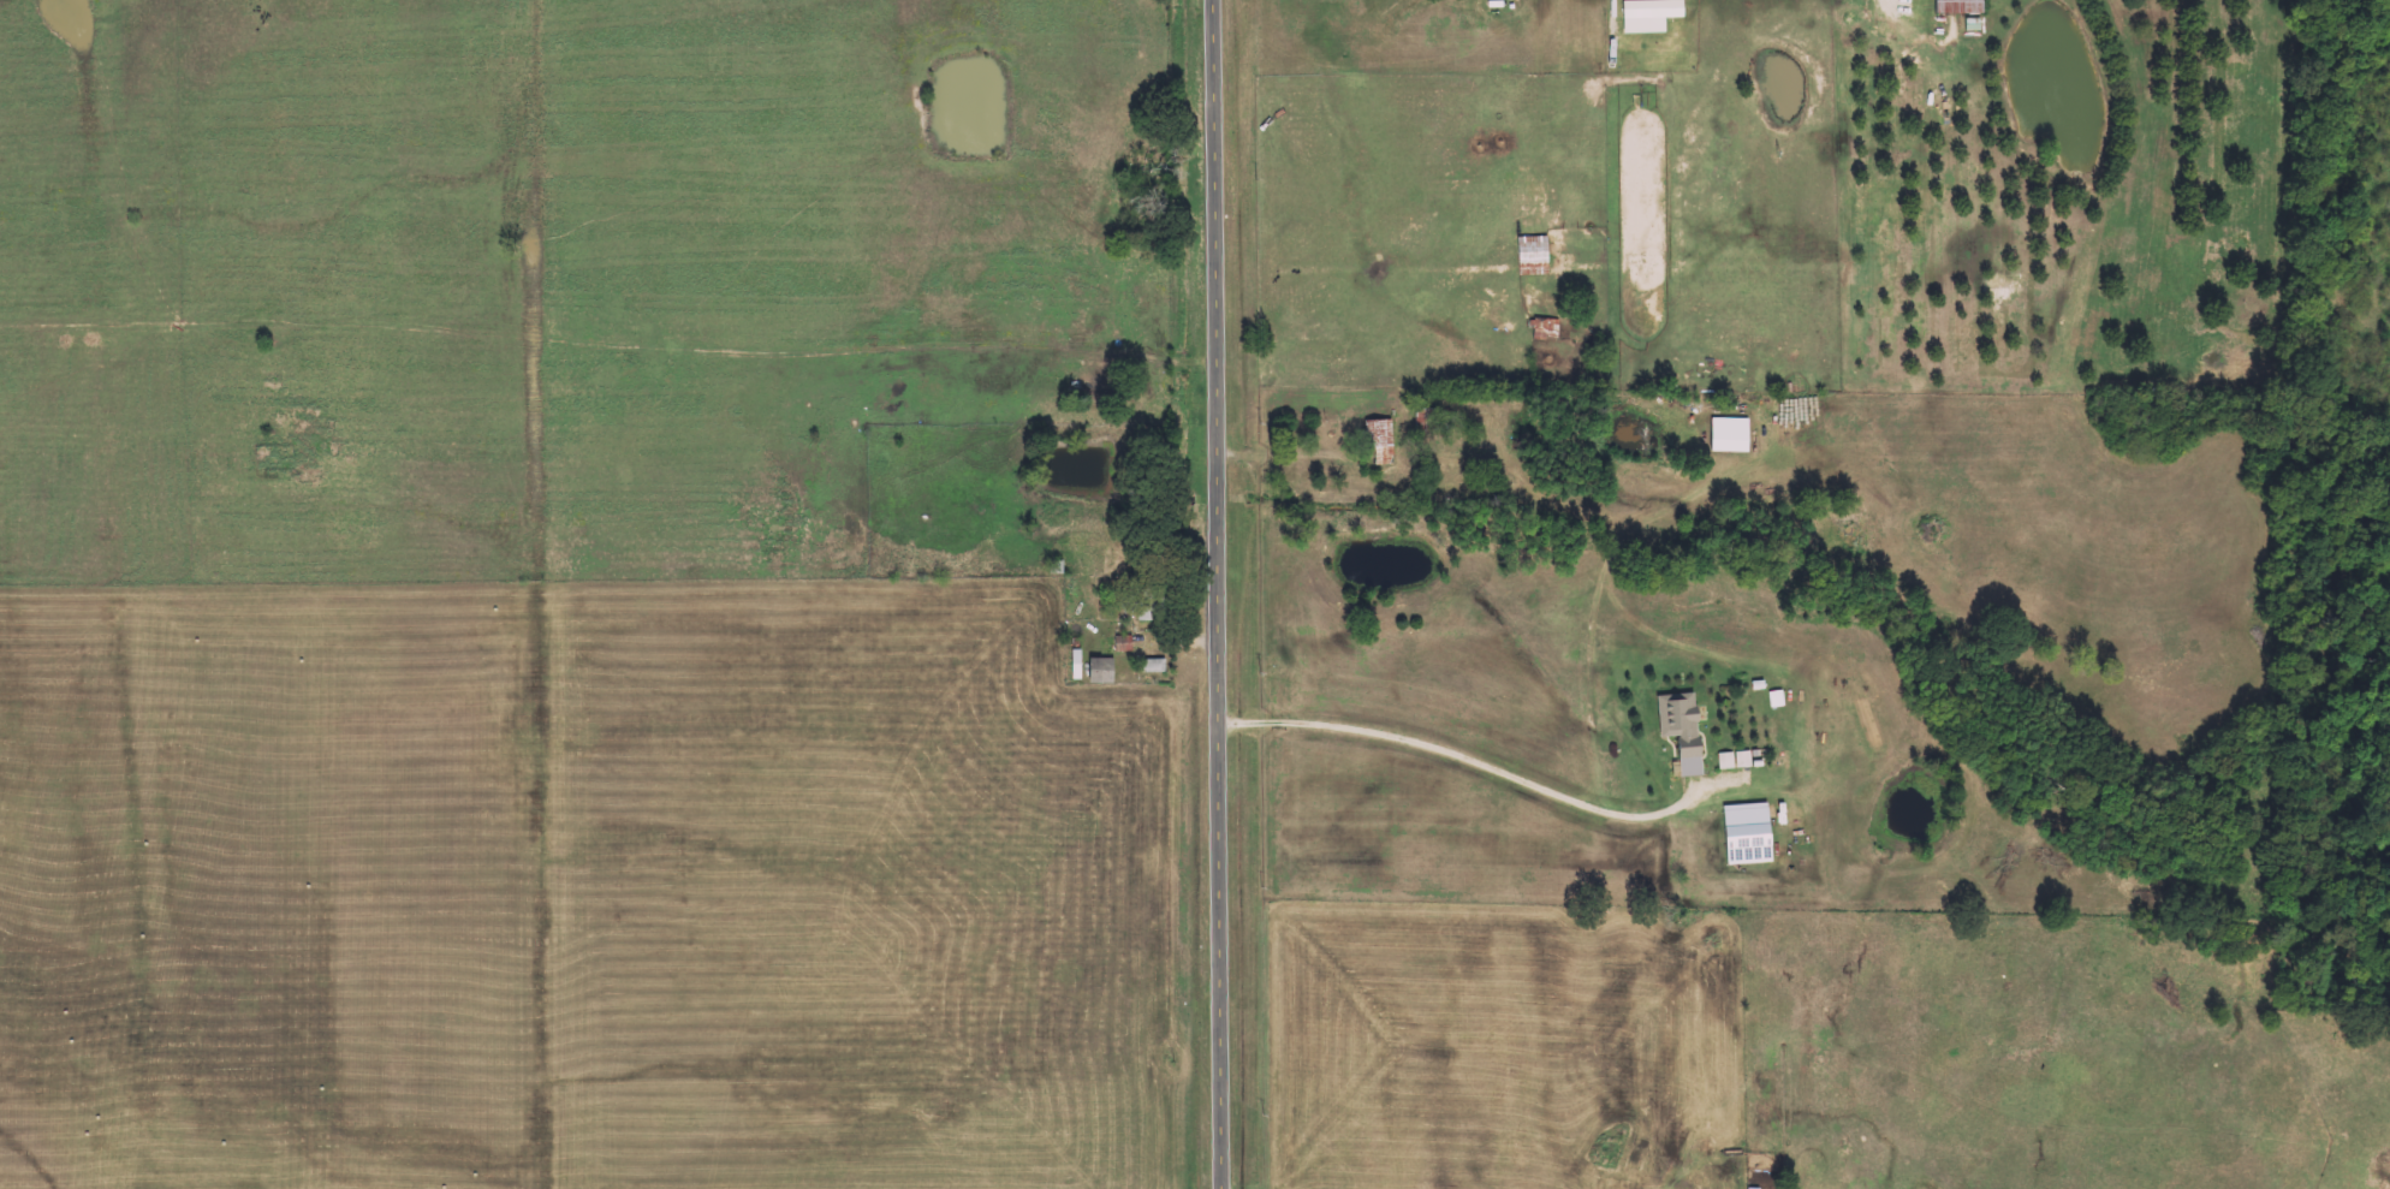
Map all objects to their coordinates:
building: (1962, 6)
building: (1653, 14)
building: (1547, 329)
building: (1423, 421)
building: (1732, 435)
building: (1383, 441)
road: (1217, 594)
building: (1078, 665)
building: (1157, 666)
building: (1105, 671)
building: (1684, 730)
road: (1462, 754)
building: (1736, 760)
building: (1750, 834)
building: (1759, 1188)

